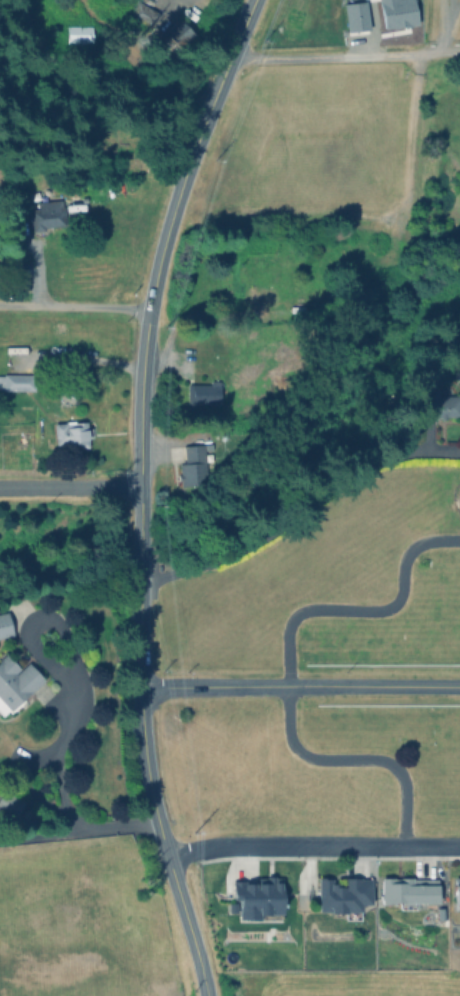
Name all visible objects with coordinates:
building: (143, 13)
road: (439, 25)
road: (448, 26)
building: (177, 32)
building: (78, 33)
road: (448, 51)
road: (334, 57)
building: (46, 215)
building: (235, 282)
road: (73, 307)
building: (13, 352)
building: (16, 381)
building: (206, 393)
building: (440, 403)
building: (72, 433)
building: (193, 467)
road: (70, 485)
road: (140, 492)
road: (300, 510)
building: (13, 521)
building: (4, 623)
road: (287, 668)
park: (319, 672)
building: (15, 682)
road: (299, 687)
road: (56, 749)
road: (27, 765)
building: (9, 803)
road: (78, 829)
road: (312, 843)
building: (408, 890)
building: (457, 891)
building: (344, 894)
building: (258, 895)

